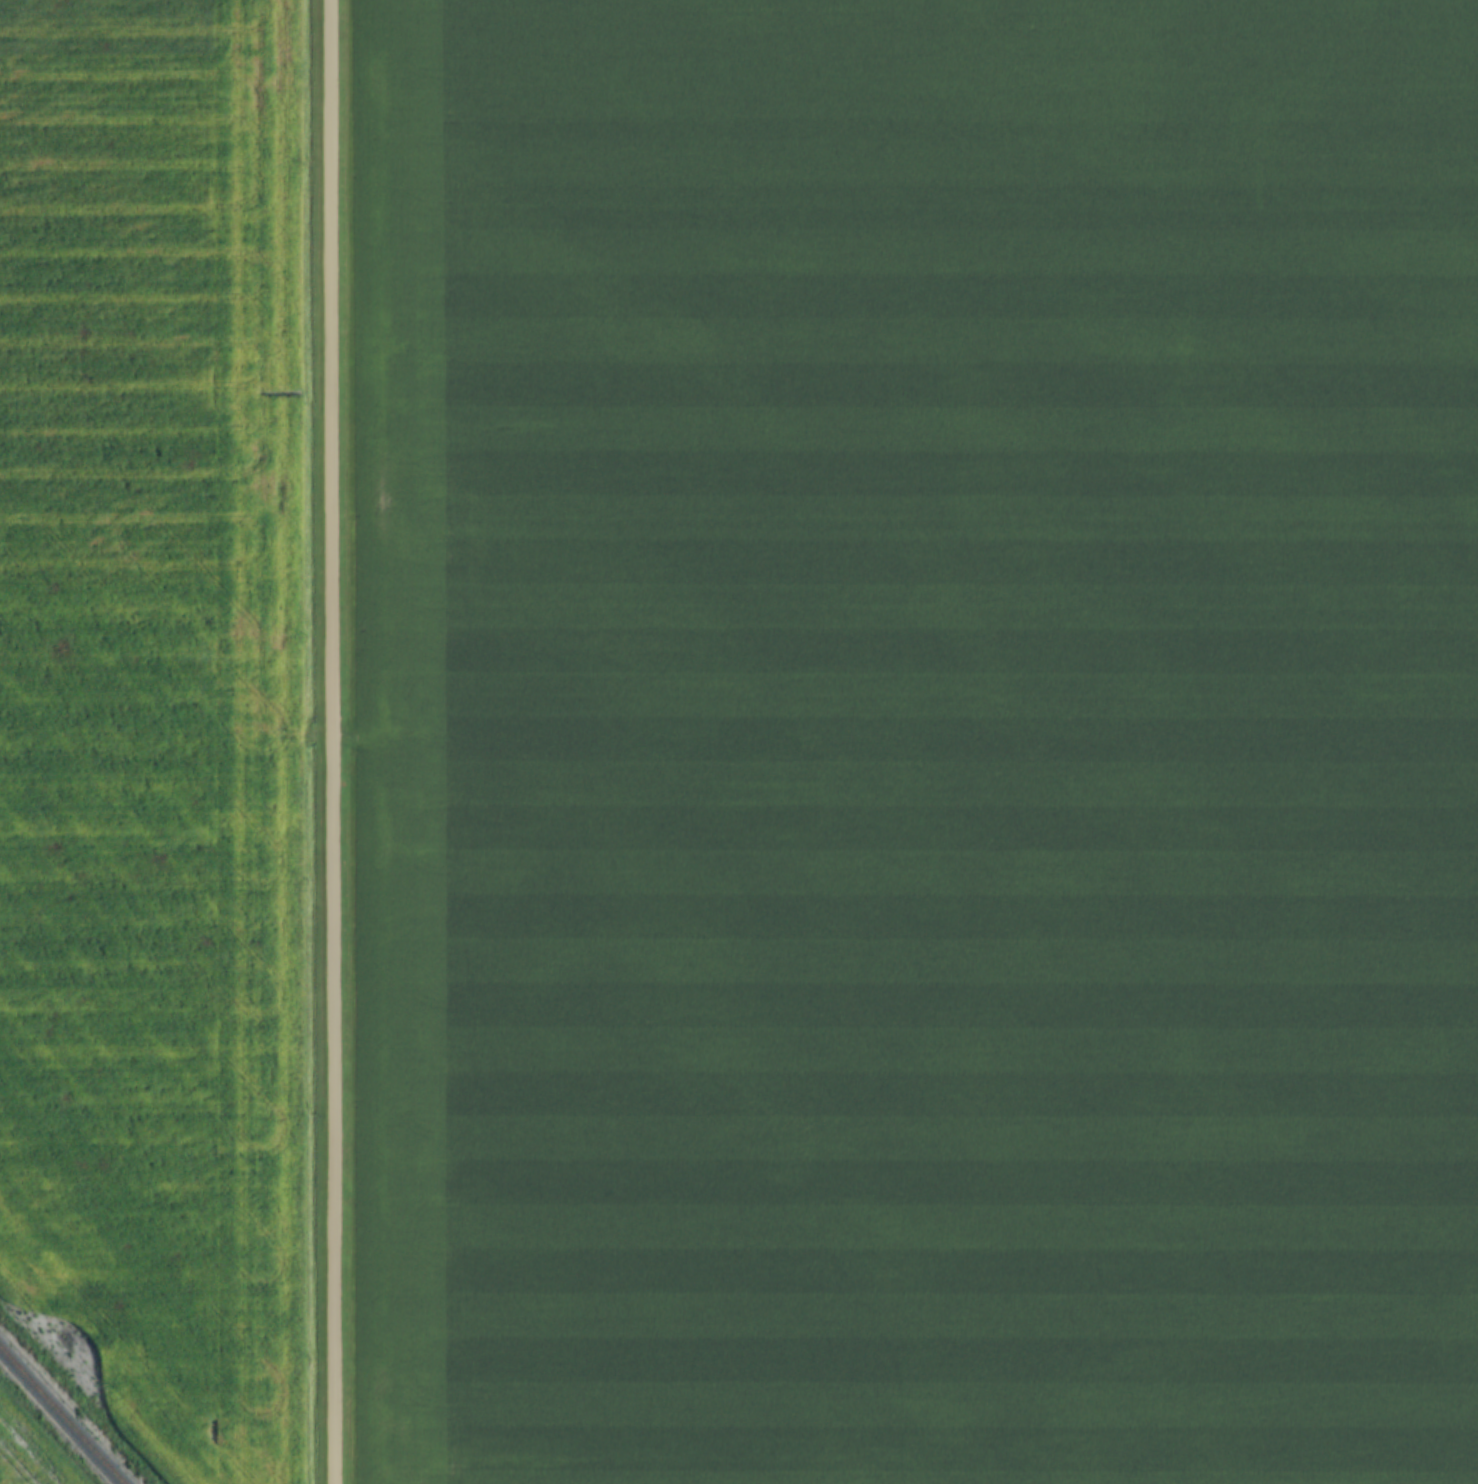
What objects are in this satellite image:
road: (337, 742)
railway: (58, 1418)

